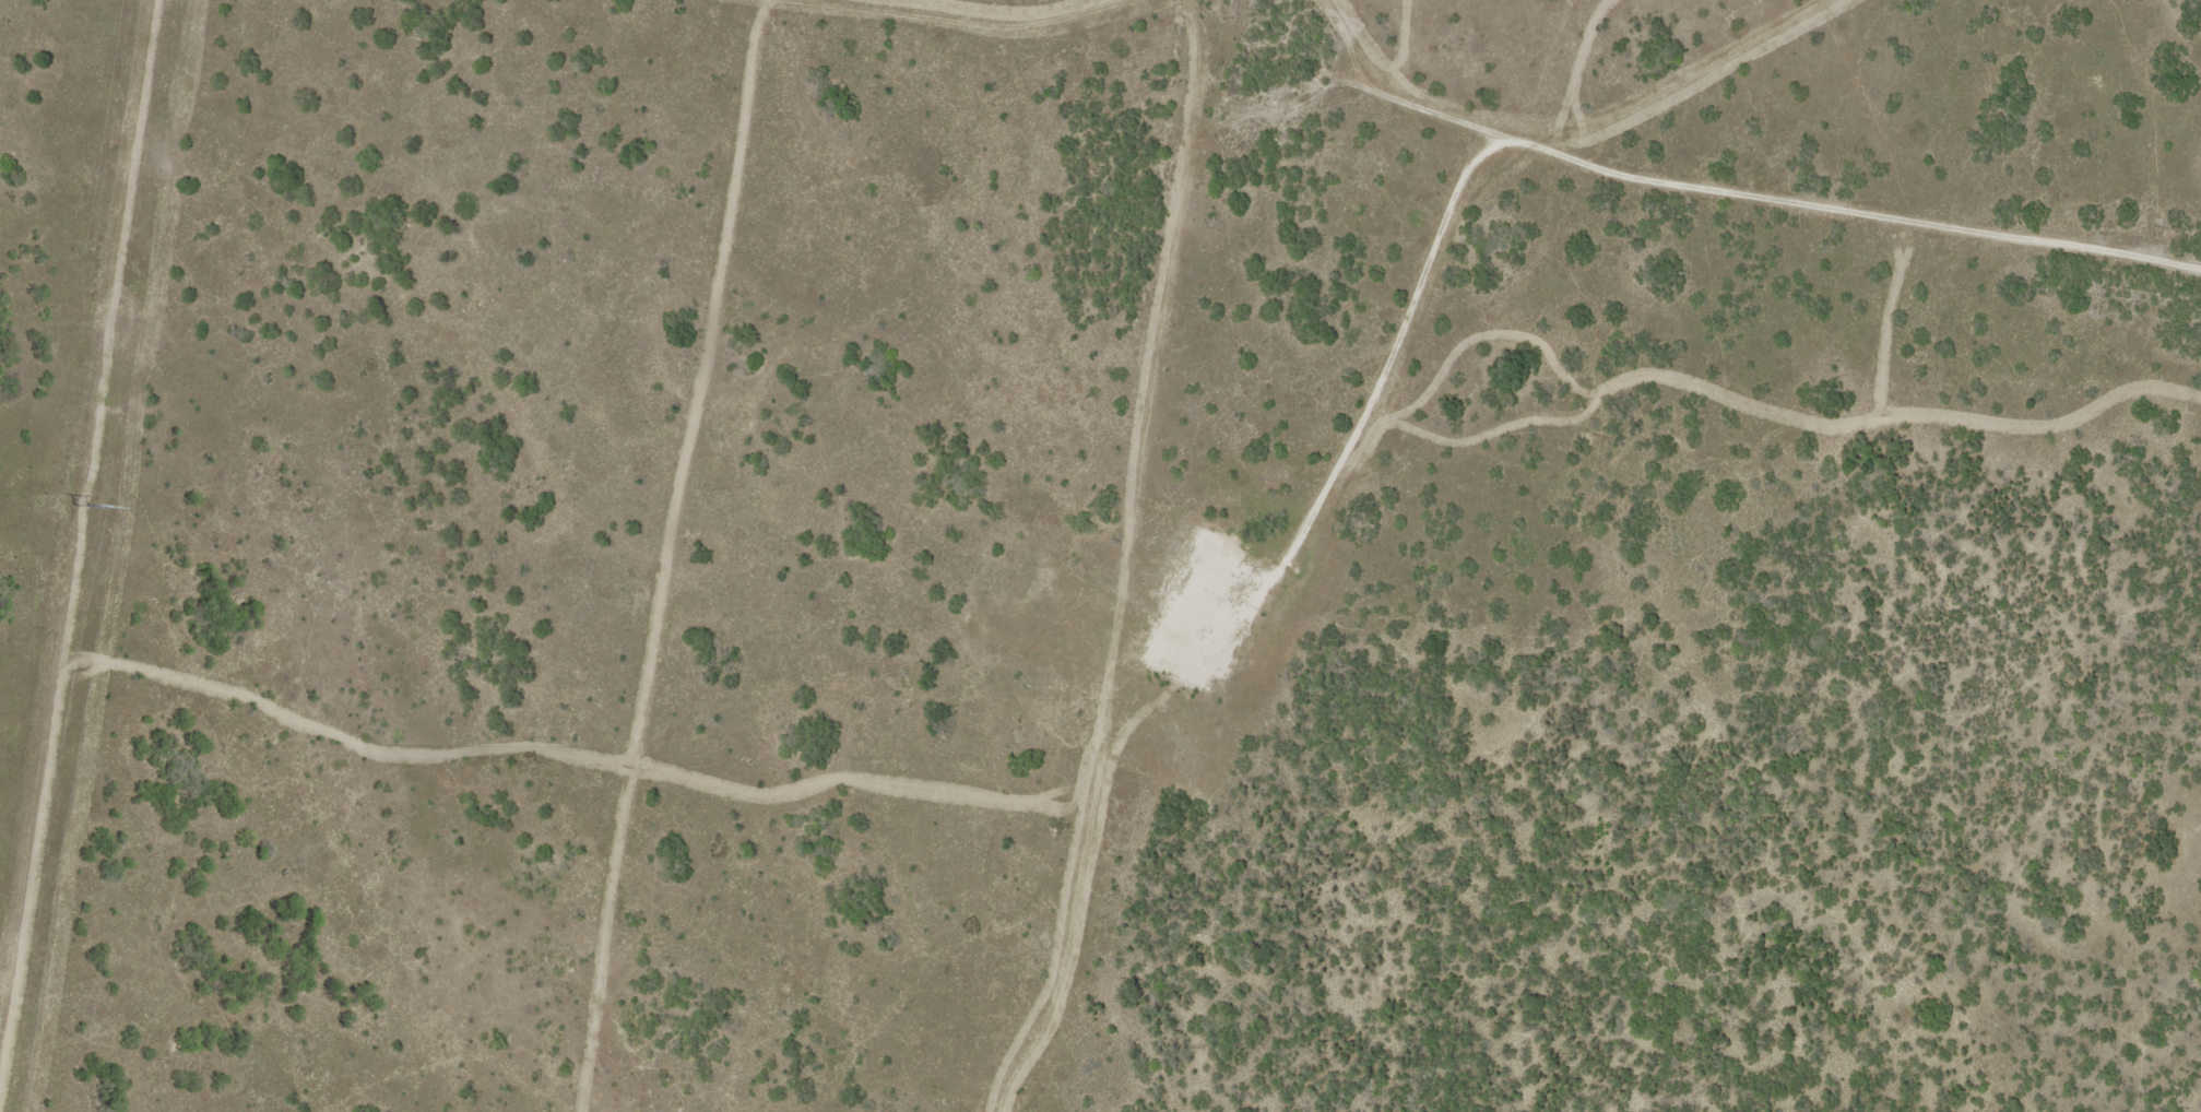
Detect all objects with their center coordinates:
power tower: (75, 505)

